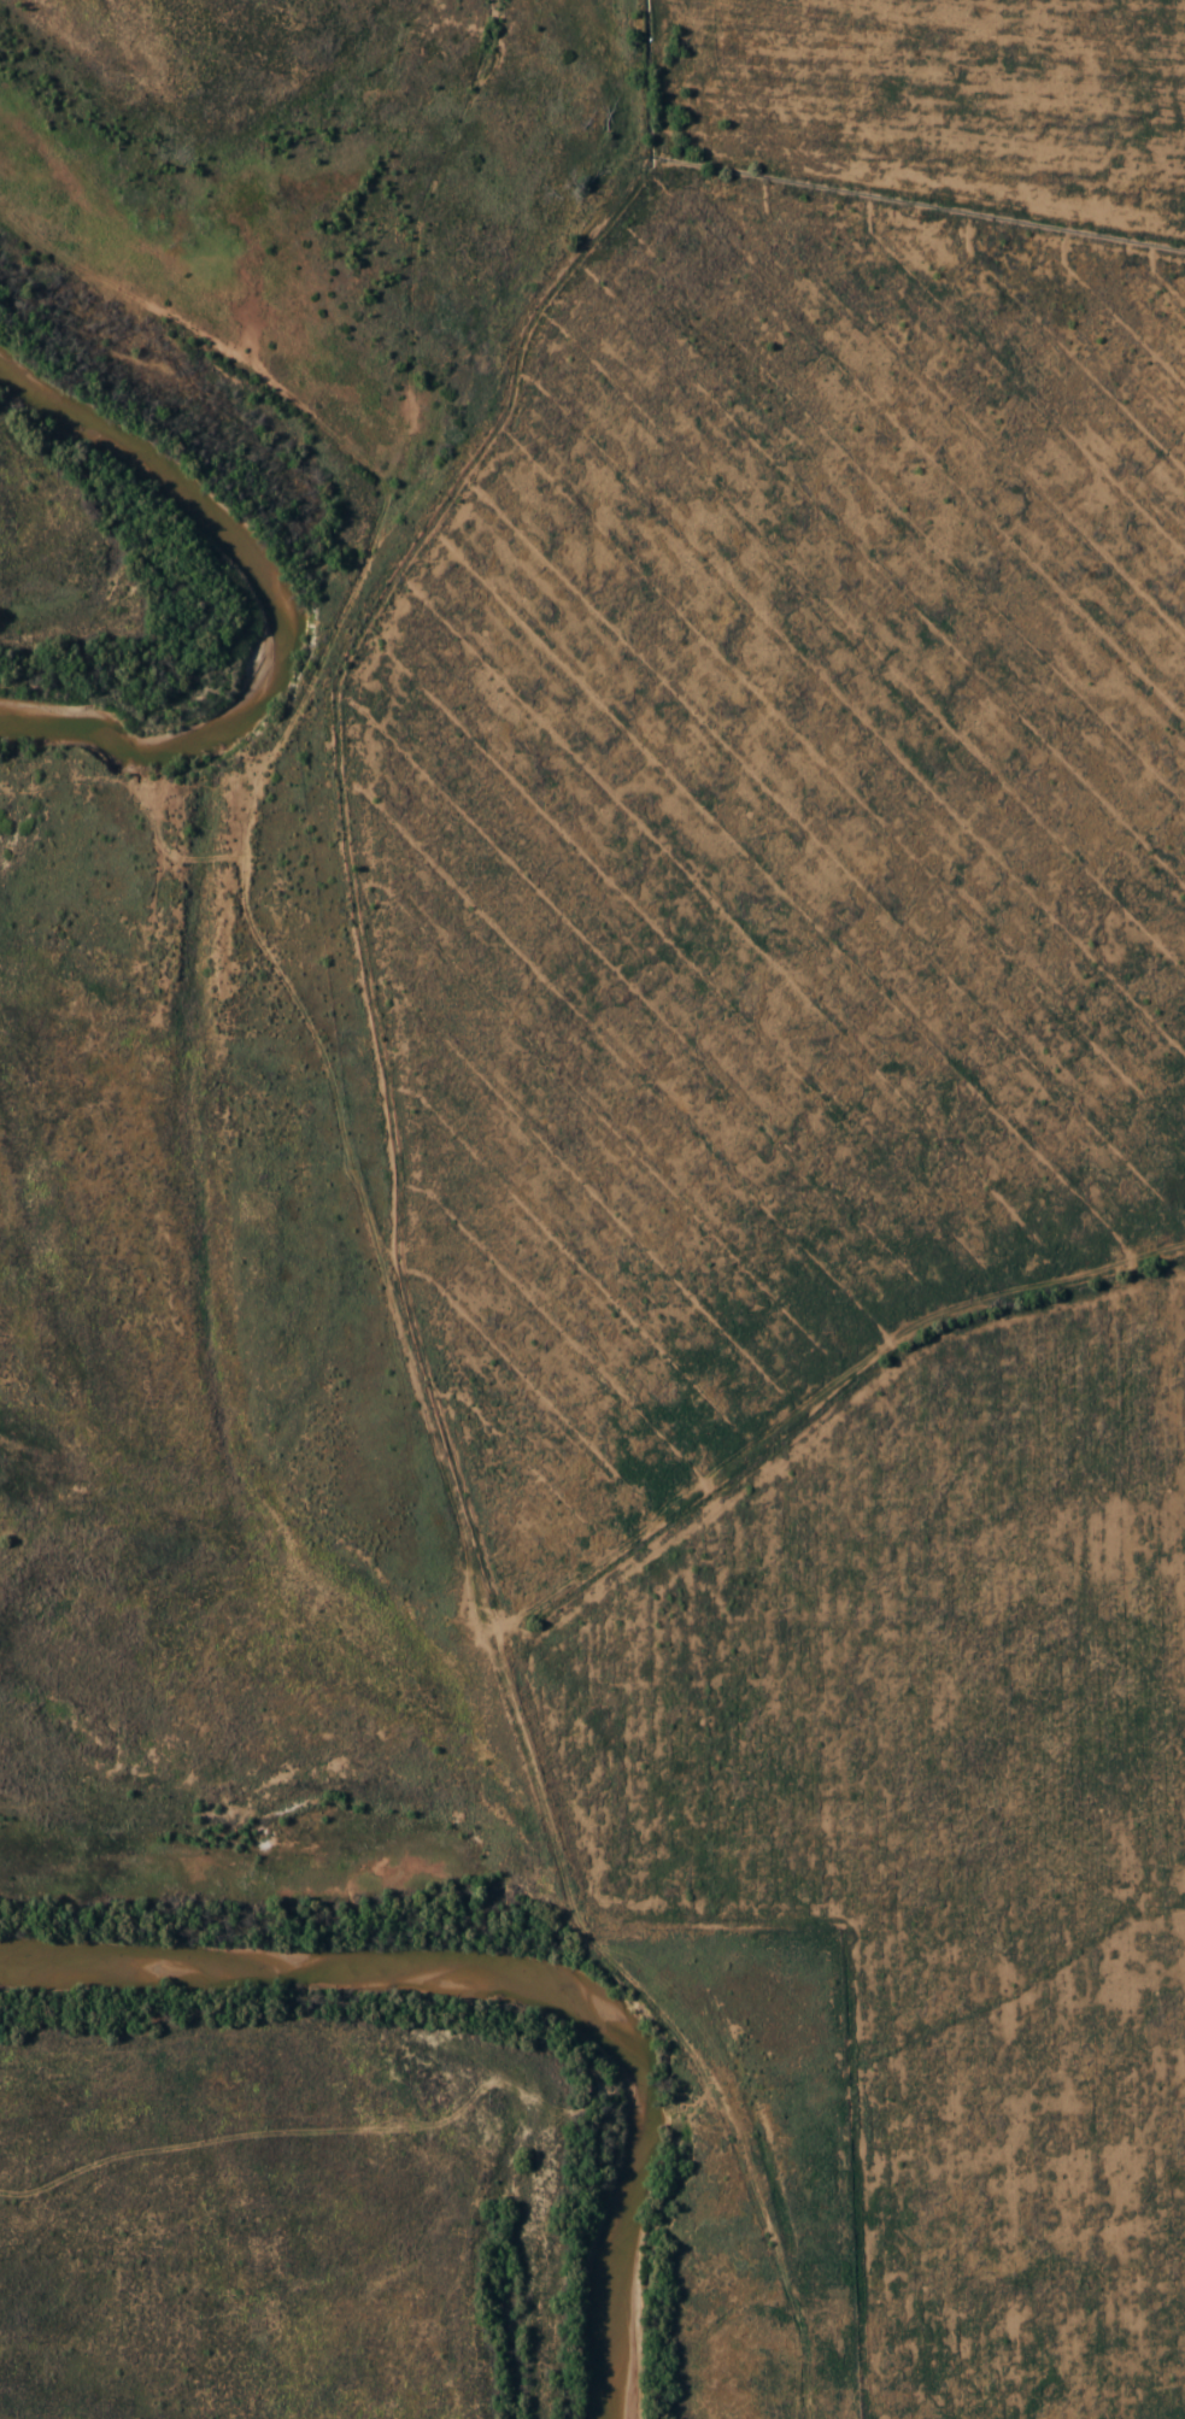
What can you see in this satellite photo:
river: (270, 603)
river: (517, 1978)

